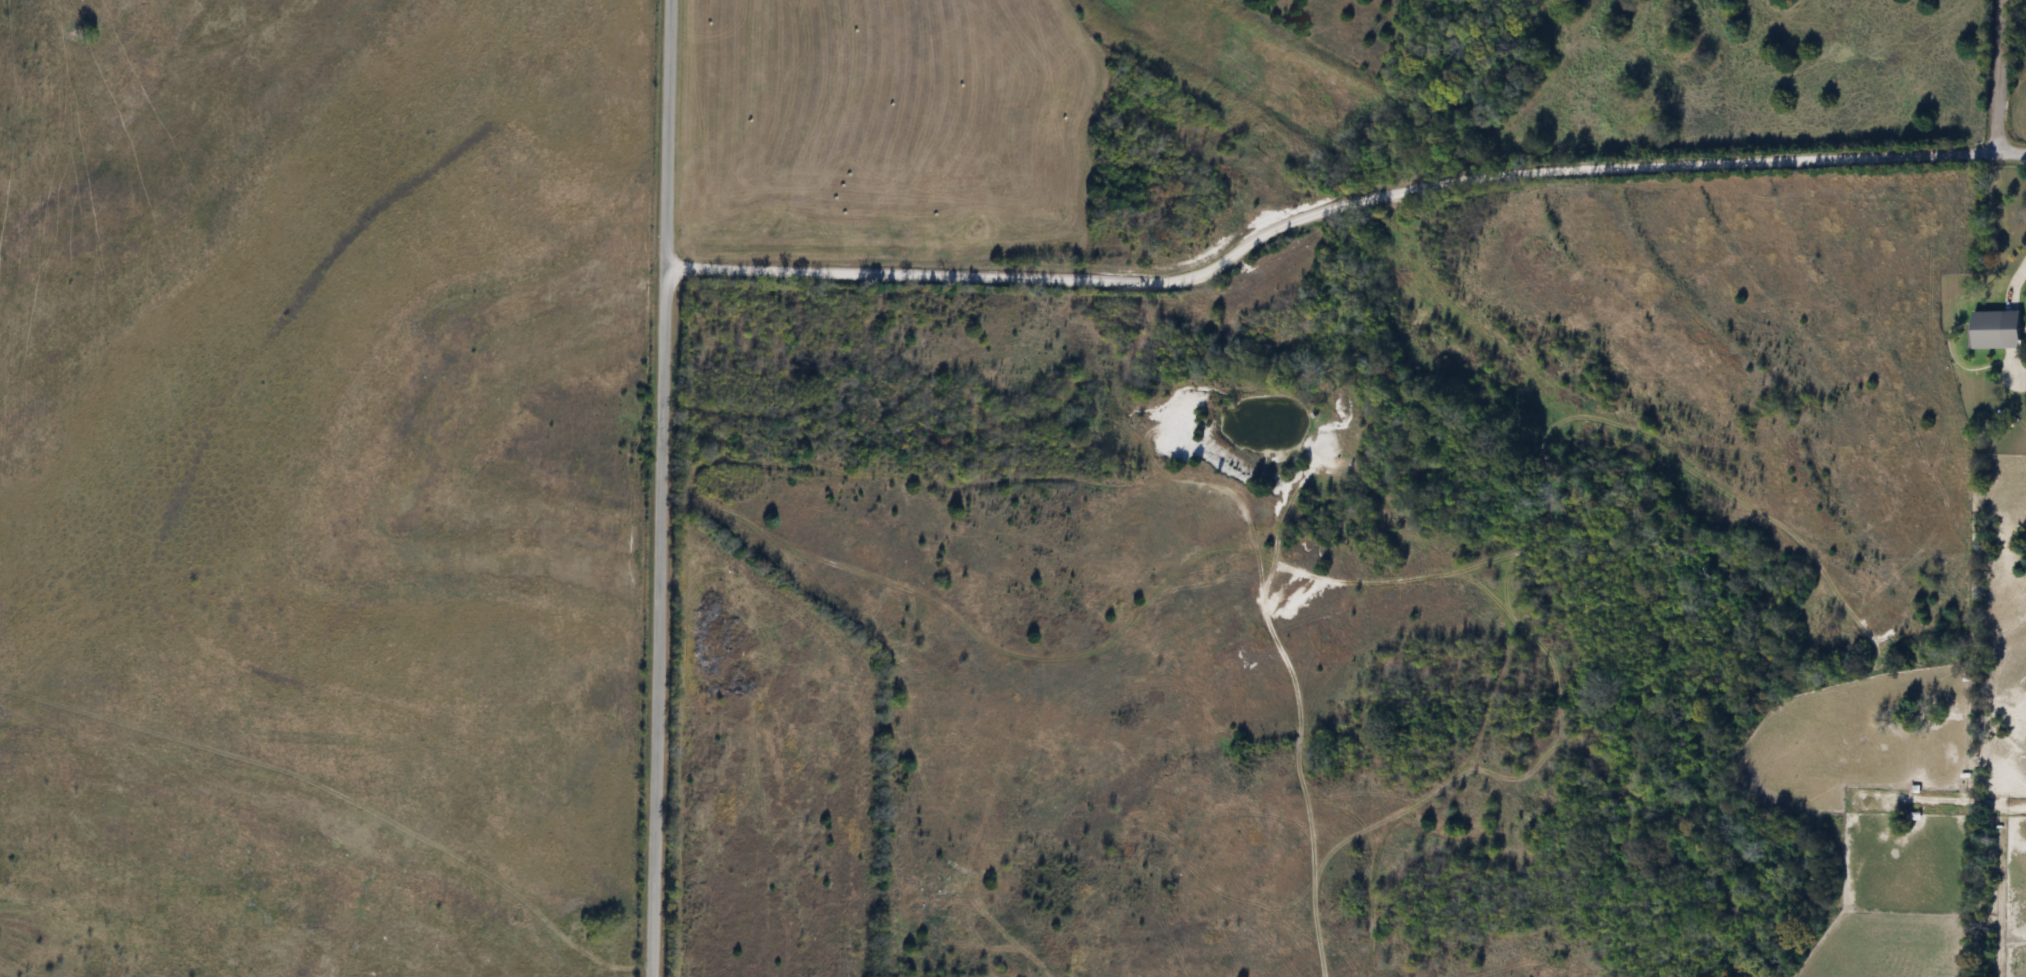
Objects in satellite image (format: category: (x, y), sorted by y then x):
road: (2000, 75)
road: (1337, 205)
building: (1993, 329)
road: (661, 488)

